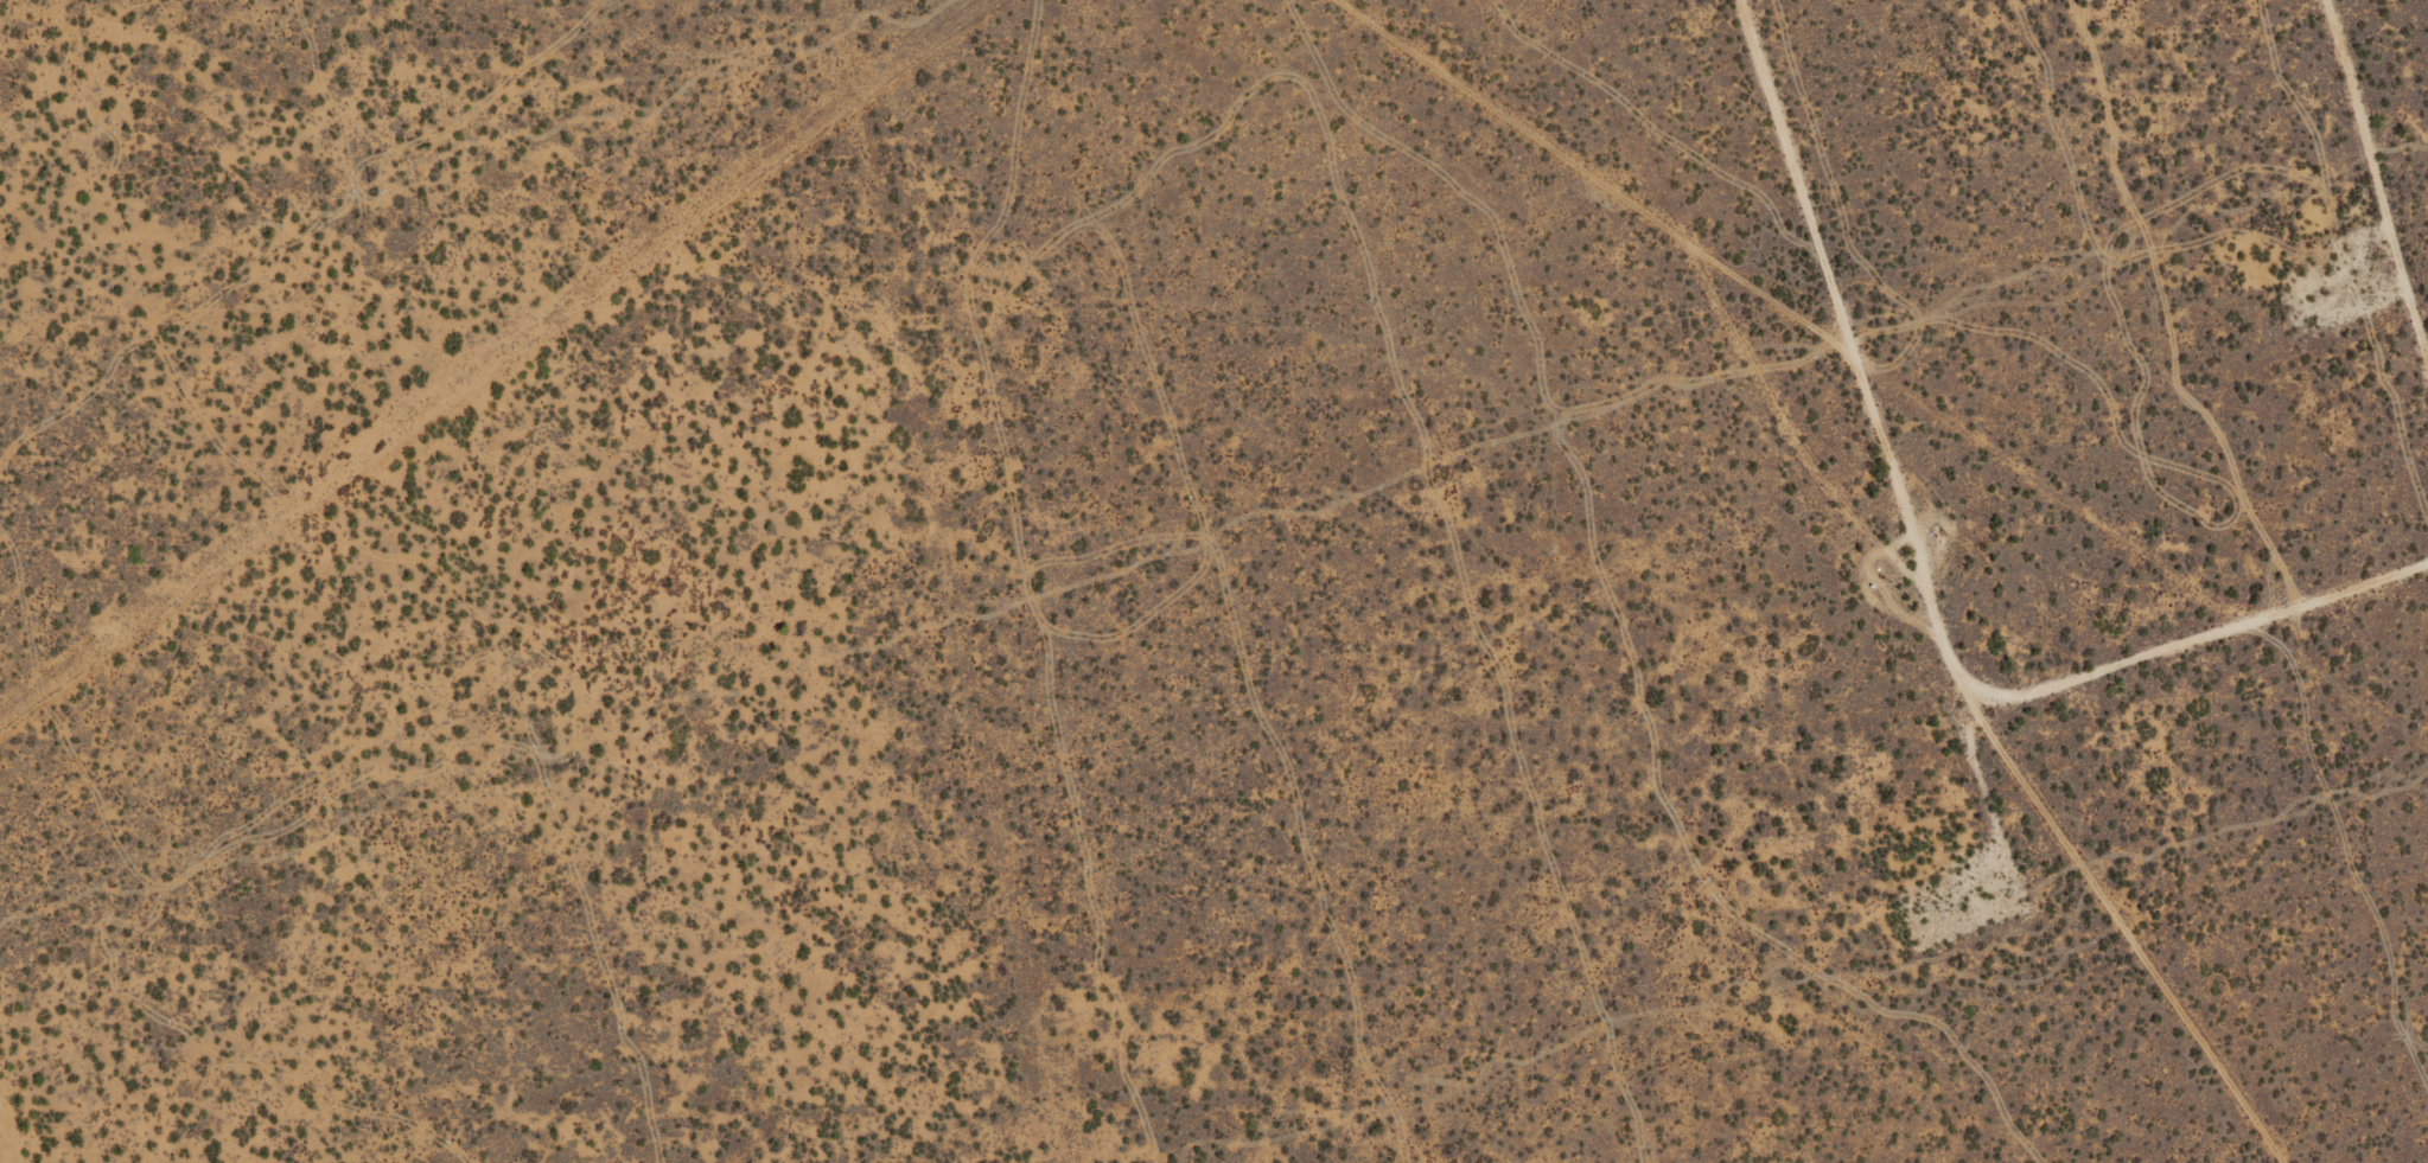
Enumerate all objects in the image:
road: (2366, 231)
road: (1889, 628)
road: (2182, 653)

